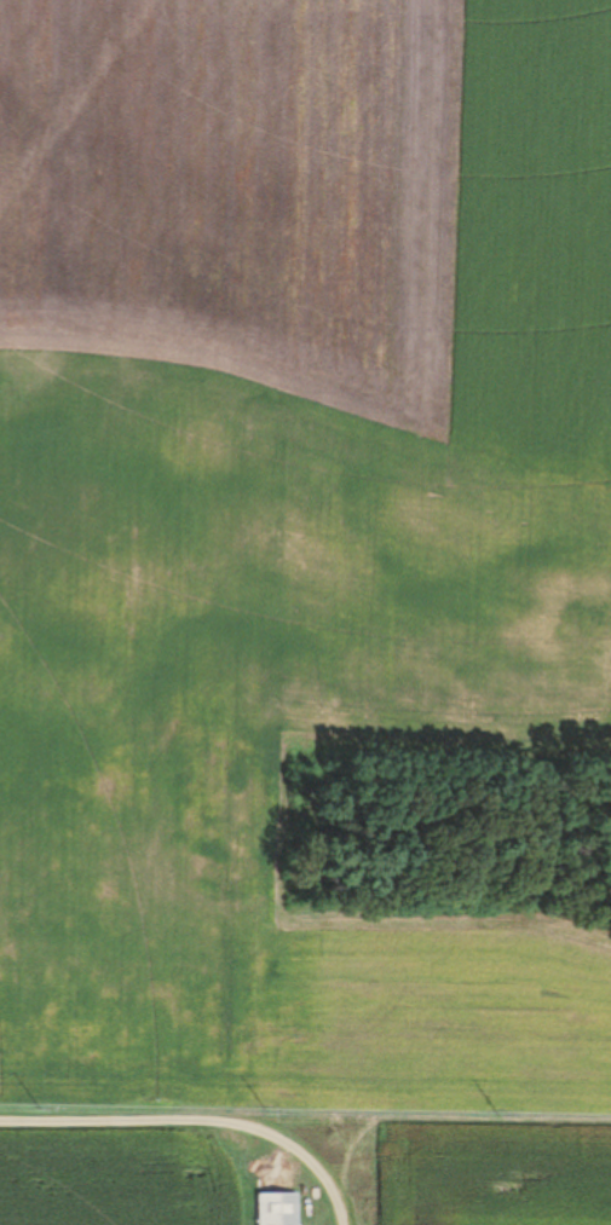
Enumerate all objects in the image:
building: (278, 1209)

